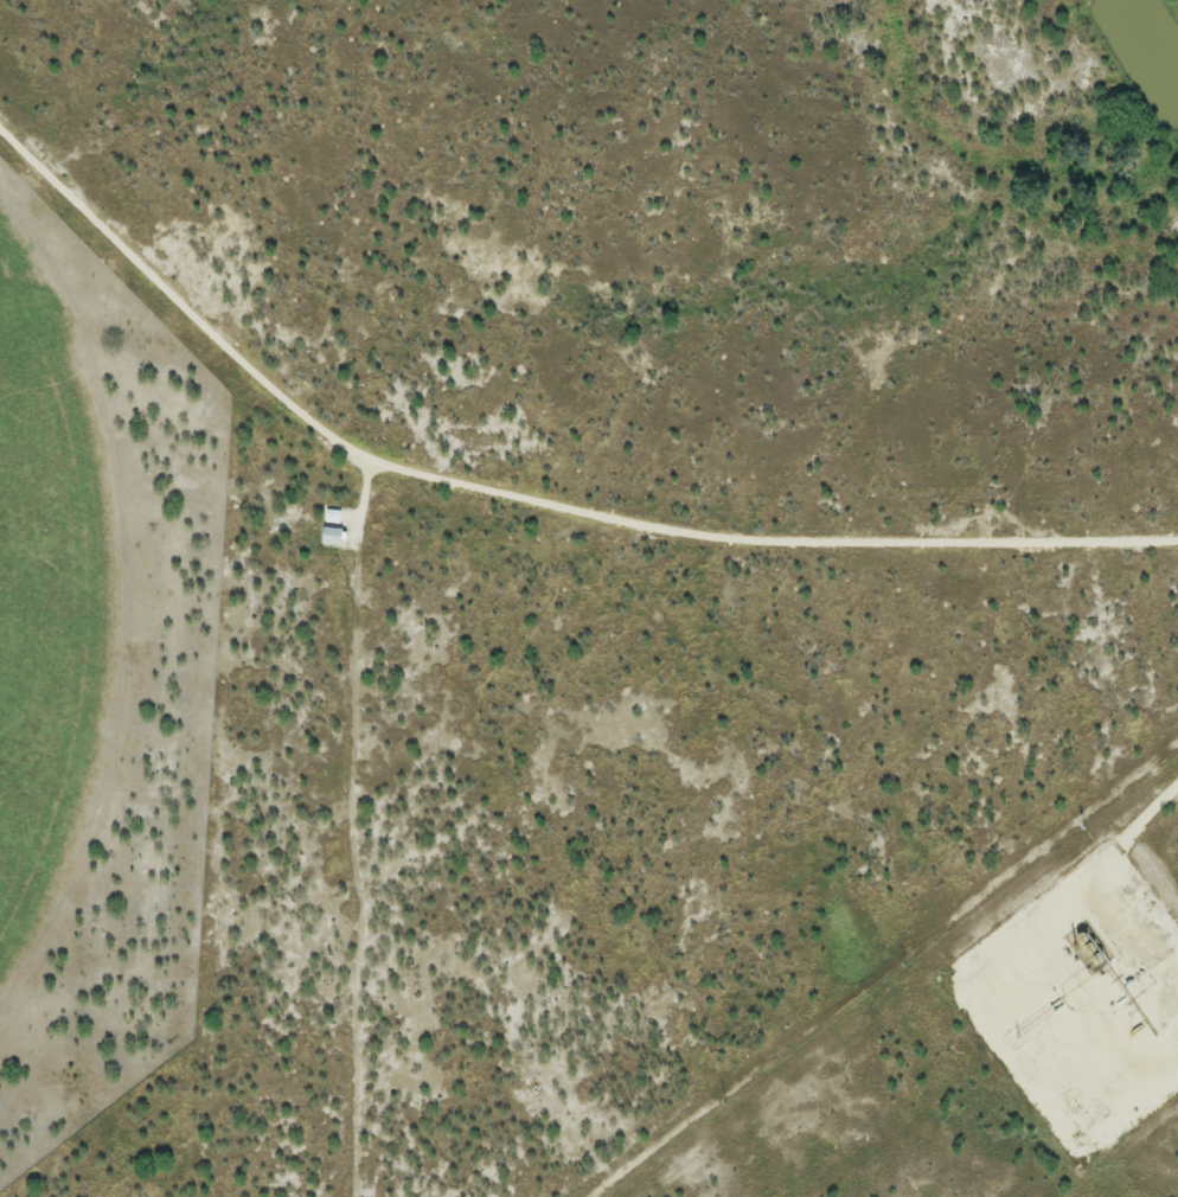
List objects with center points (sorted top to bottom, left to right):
road: (525, 503)
road: (1029, 916)

